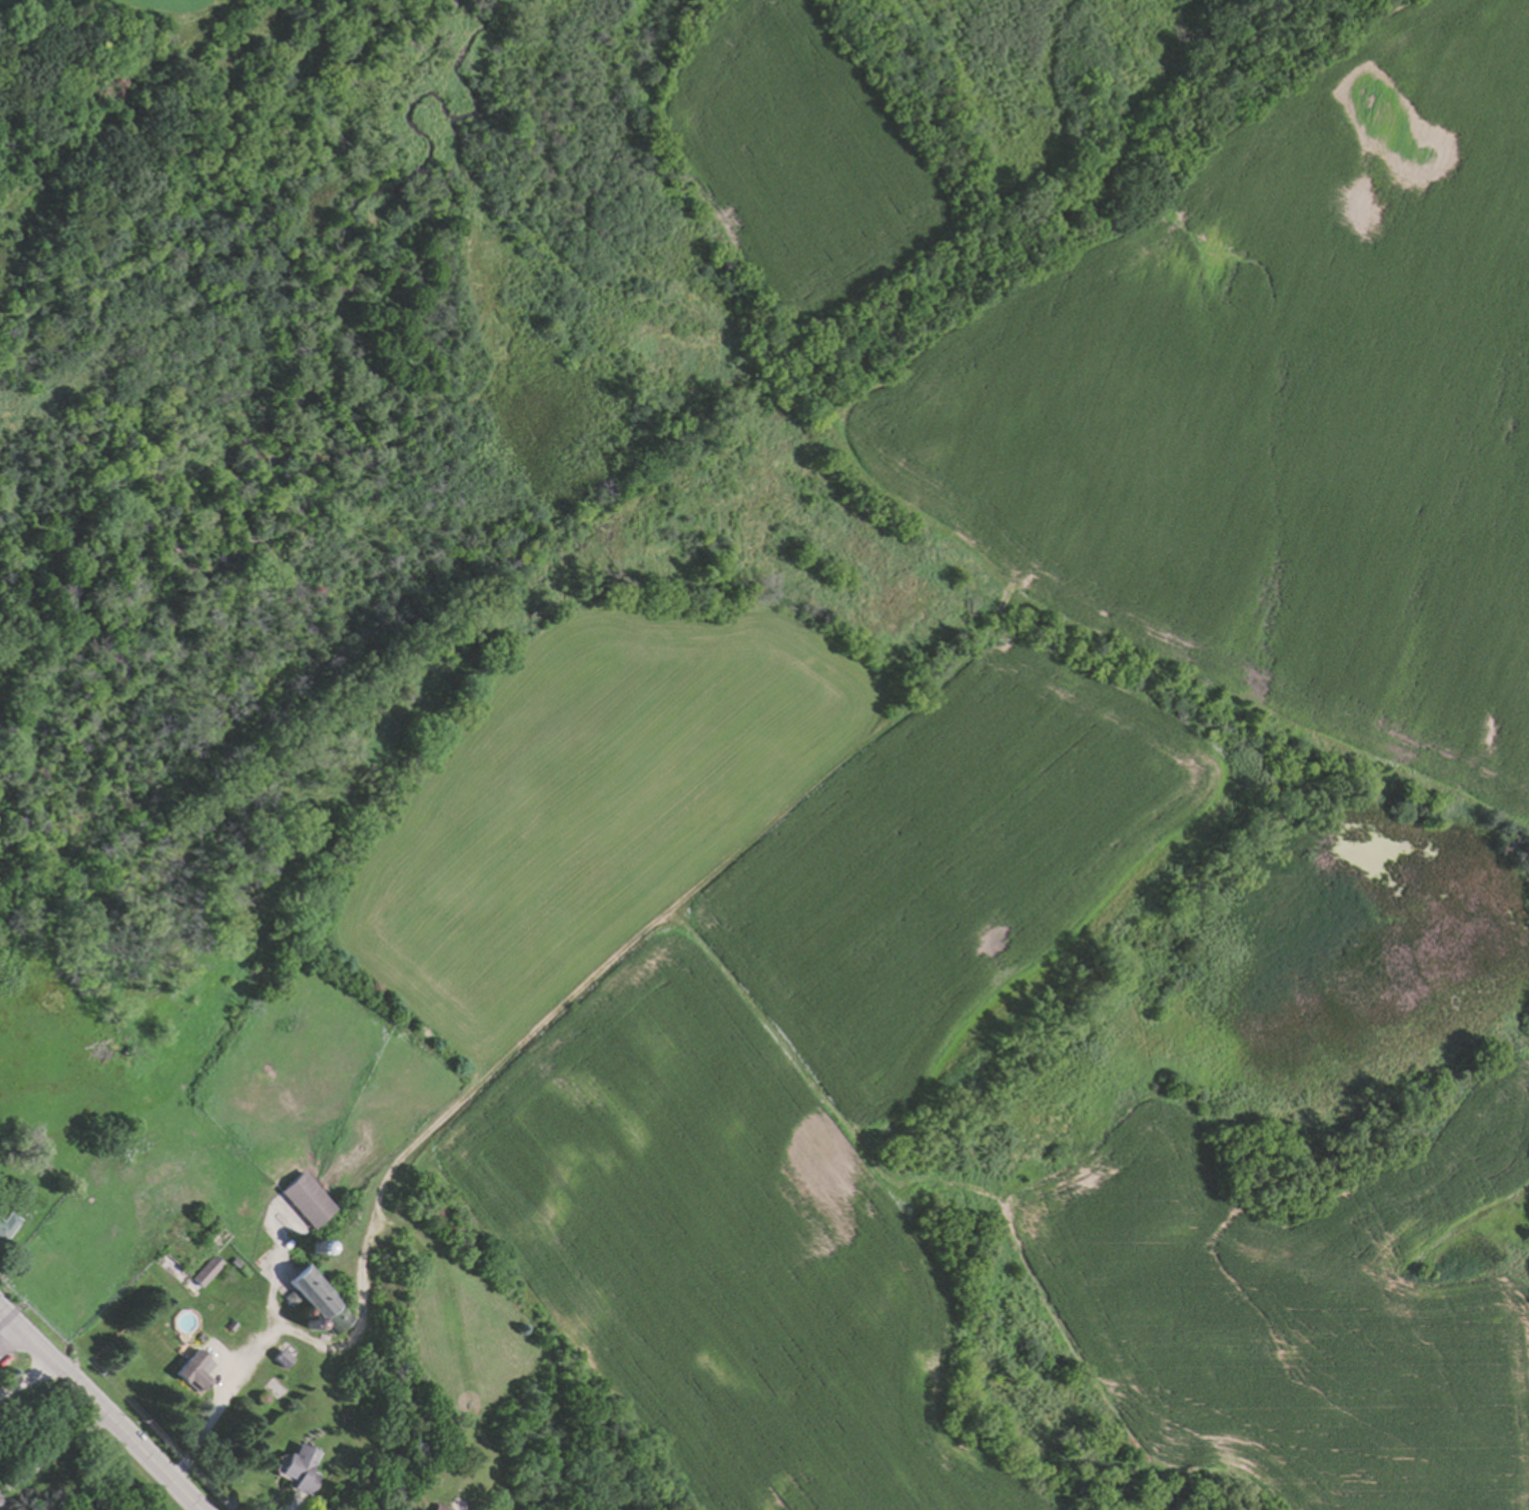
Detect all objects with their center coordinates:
building: (302, 1199)
building: (439, 1216)
building: (5, 1220)
building: (313, 1246)
building: (234, 1261)
building: (204, 1269)
building: (322, 1297)
building: (301, 1310)
building: (229, 1322)
building: (309, 1323)
building: (201, 1334)
road: (297, 1335)
road: (7, 1345)
building: (280, 1356)
building: (197, 1372)
road: (22, 1382)
building: (260, 1395)
building: (342, 1416)
road: (96, 1419)
road: (48, 1457)
building: (294, 1467)
building: (438, 1508)

